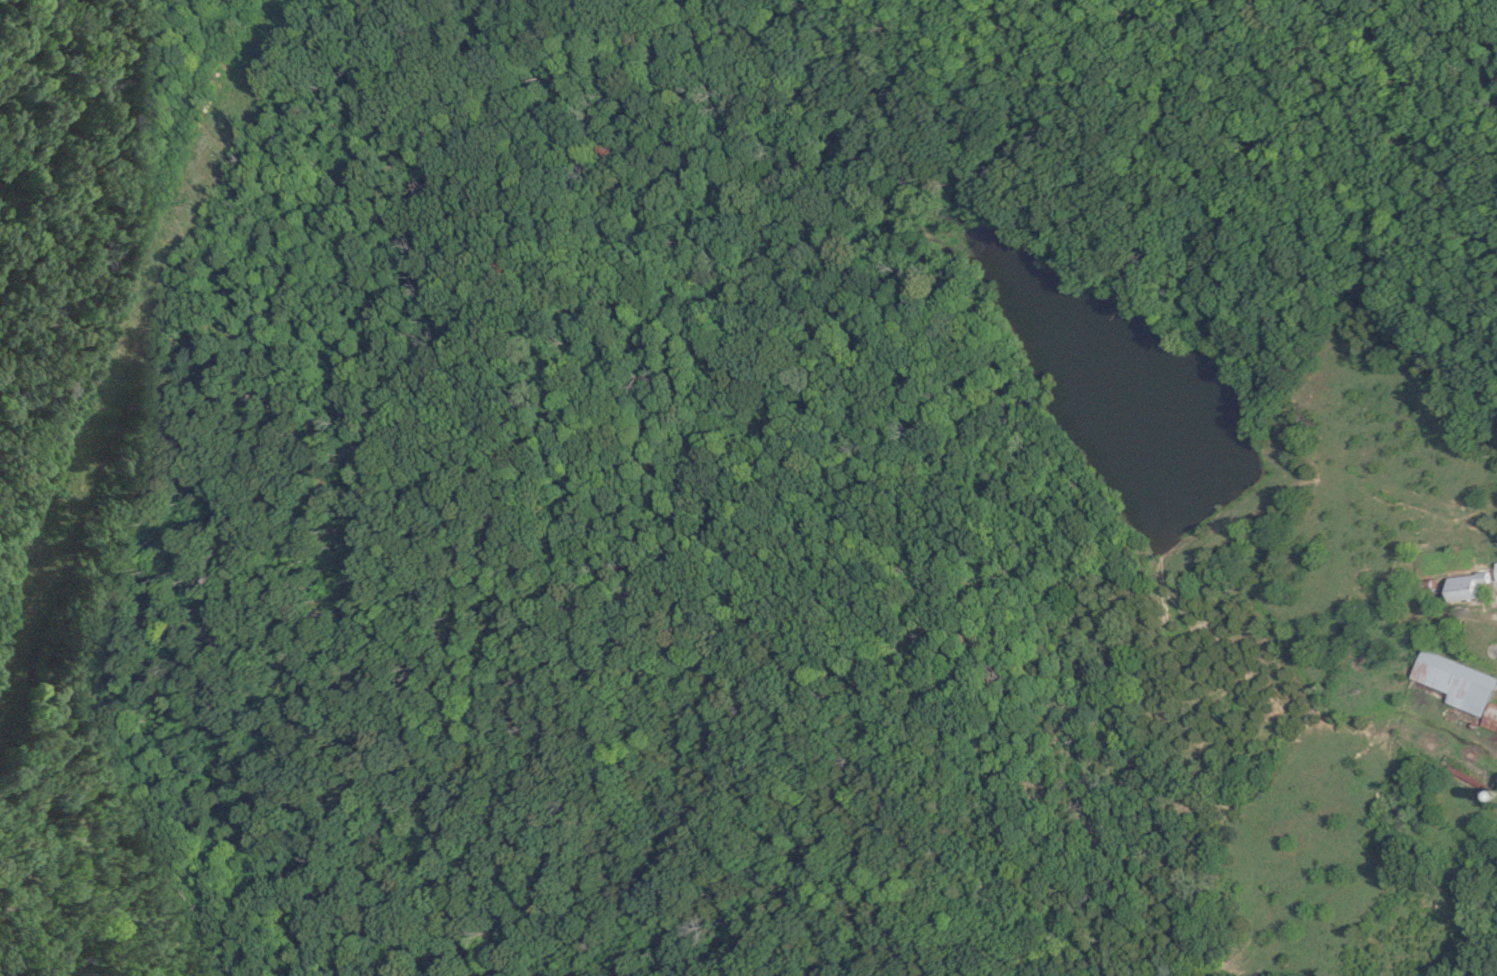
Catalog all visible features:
building: (1496, 571)
building: (1463, 587)
building: (1459, 685)

